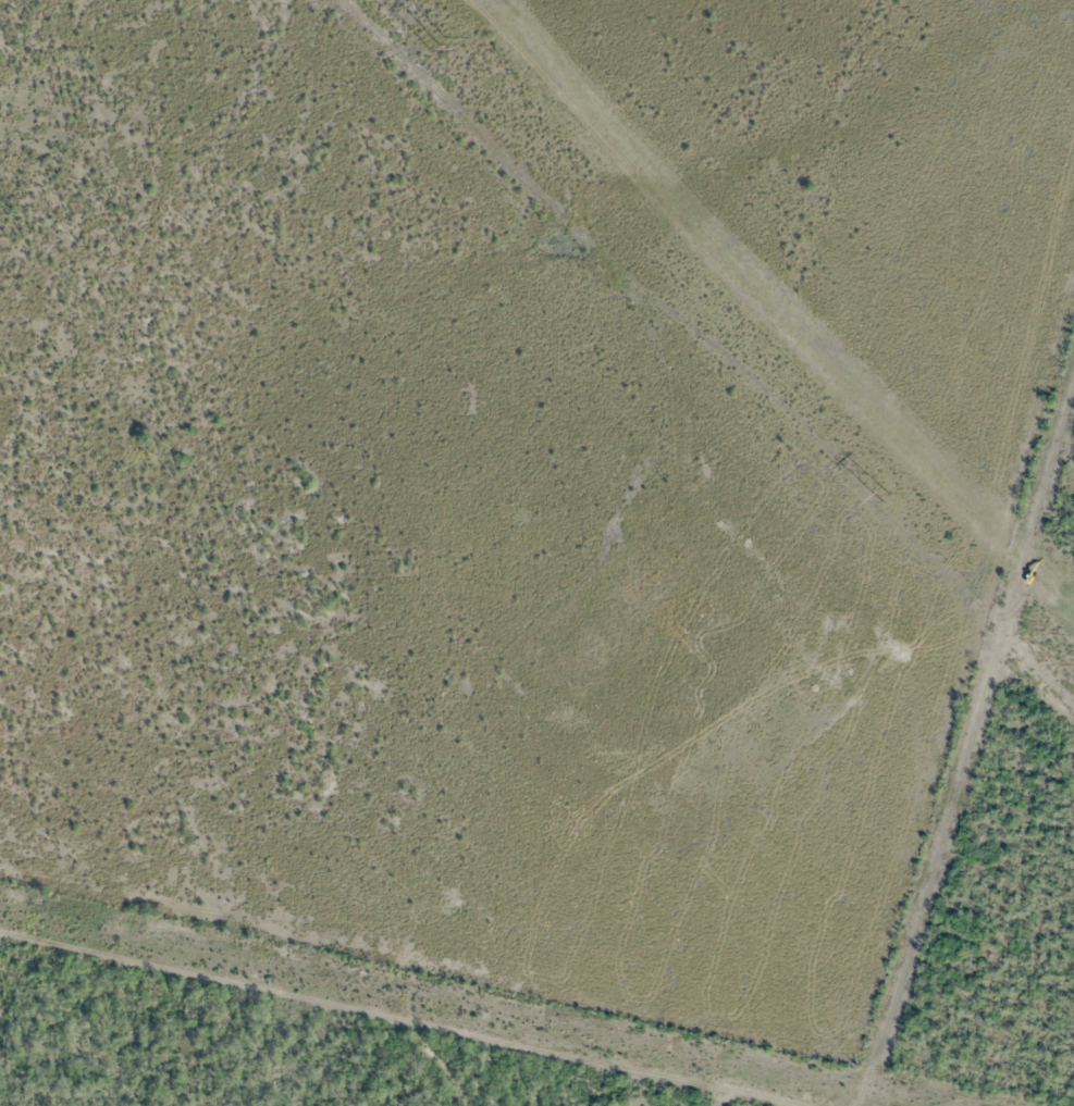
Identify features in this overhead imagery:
power tower: (437, 41)
power tower: (887, 496)
road: (961, 740)
road: (399, 1016)

